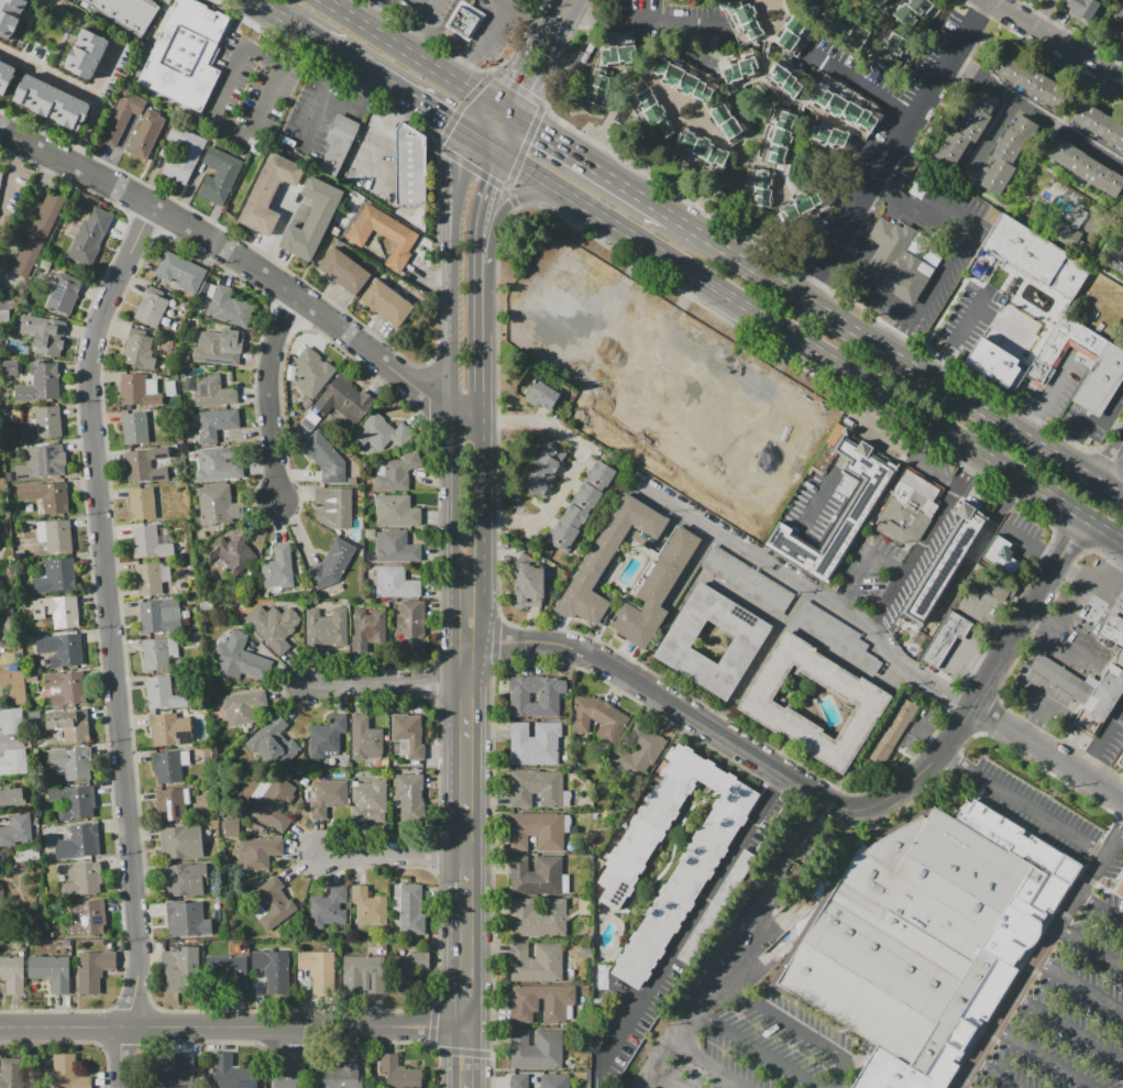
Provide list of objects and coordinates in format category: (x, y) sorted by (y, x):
road: (503, 3)
road: (563, 3)
road: (570, 3)
building: (816, 3)
building: (880, 3)
building: (1081, 9)
building: (1119, 10)
road: (367, 11)
building: (128, 12)
building: (914, 14)
building: (10, 15)
road: (273, 15)
road: (560, 20)
building: (739, 20)
building: (465, 21)
road: (495, 21)
road: (415, 23)
road: (661, 26)
road: (372, 29)
road: (439, 29)
building: (791, 31)
building: (850, 32)
building: (1121, 33)
road: (1058, 40)
road: (593, 42)
building: (617, 50)
building: (893, 52)
building: (184, 53)
building: (88, 55)
road: (350, 63)
road: (516, 63)
building: (739, 66)
building: (5, 75)
traffic signals: (507, 77)
building: (681, 77)
building: (788, 77)
building: (1027, 77)
road: (540, 78)
road: (863, 85)
building: (596, 87)
road: (86, 89)
road: (467, 89)
road: (319, 99)
building: (55, 103)
building: (845, 103)
road: (1039, 107)
building: (650, 113)
road: (433, 114)
building: (977, 114)
building: (121, 116)
building: (727, 120)
road: (227, 121)
building: (1100, 122)
traffic signals: (447, 123)
traffic signals: (536, 132)
building: (145, 134)
building: (829, 134)
building: (779, 135)
road: (992, 135)
road: (507, 138)
road: (376, 142)
building: (338, 144)
road: (895, 145)
building: (1012, 145)
building: (953, 147)
road: (563, 149)
building: (701, 152)
building: (183, 154)
building: (410, 166)
building: (1086, 166)
road: (460, 172)
road: (527, 172)
building: (219, 176)
building: (999, 176)
building: (1, 179)
traffic signals: (489, 184)
building: (759, 186)
building: (269, 190)
road: (641, 196)
road: (513, 199)
building: (802, 205)
road: (482, 208)
building: (312, 219)
road: (143, 224)
building: (1063, 232)
building: (37, 234)
building: (382, 234)
building: (89, 235)
road: (951, 253)
building: (1115, 255)
road: (236, 256)
building: (1027, 257)
building: (896, 262)
building: (179, 271)
building: (344, 271)
building: (64, 293)
road: (480, 296)
road: (2, 303)
building: (386, 303)
building: (152, 307)
building: (228, 307)
building: (3, 316)
road: (302, 320)
road: (455, 329)
road: (959, 332)
road: (900, 333)
building: (51, 338)
building: (1063, 345)
building: (139, 348)
building: (216, 350)
road: (898, 356)
building: (990, 361)
building: (9, 366)
road: (427, 366)
building: (312, 372)
road: (480, 372)
road: (855, 373)
building: (1101, 380)
building: (40, 383)
building: (169, 387)
building: (140, 391)
building: (209, 391)
road: (266, 393)
building: (542, 394)
road: (1043, 398)
building: (343, 399)
road: (469, 414)
road: (866, 417)
building: (48, 422)
building: (212, 424)
building: (134, 428)
building: (379, 432)
road: (846, 448)
building: (324, 459)
road: (1105, 460)
road: (1109, 461)
building: (42, 462)
road: (576, 463)
building: (217, 464)
building: (137, 465)
road: (964, 468)
building: (543, 470)
building: (396, 471)
road: (935, 473)
road: (456, 484)
road: (482, 486)
road: (822, 491)
building: (46, 496)
building: (862, 502)
building: (142, 504)
building: (217, 505)
building: (581, 506)
building: (334, 507)
building: (909, 508)
building: (396, 510)
building: (56, 535)
road: (1071, 539)
building: (150, 541)
building: (0, 542)
building: (396, 547)
road: (977, 550)
building: (233, 551)
building: (998, 551)
road: (913, 556)
road: (1107, 556)
building: (606, 558)
building: (332, 563)
road: (865, 563)
building: (945, 564)
building: (279, 568)
road: (1112, 568)
road: (473, 573)
road: (461, 574)
building: (56, 576)
building: (151, 578)
road: (1090, 578)
building: (746, 580)
building: (395, 583)
building: (528, 583)
building: (994, 587)
building: (654, 590)
road: (92, 592)
road: (1072, 603)
building: (1121, 605)
building: (57, 611)
road: (1028, 611)
building: (158, 616)
road: (860, 616)
road: (1041, 617)
building: (8, 620)
building: (274, 626)
building: (1114, 629)
gas station: (1114, 629)
building: (327, 630)
building: (367, 630)
building: (410, 630)
building: (835, 635)
building: (945, 638)
building: (676, 641)
road: (111, 642)
road: (1065, 646)
road: (1049, 647)
building: (66, 650)
road: (1058, 652)
building: (159, 653)
road: (760, 657)
building: (239, 659)
road: (1075, 662)
road: (1039, 663)
road: (1083, 668)
road: (1048, 670)
building: (1063, 678)
road: (1027, 680)
road: (1065, 680)
building: (13, 684)
road: (387, 684)
road: (1074, 684)
building: (65, 689)
road: (1035, 689)
road: (1083, 691)
road: (1042, 692)
building: (162, 693)
road: (1052, 697)
building: (548, 699)
road: (1056, 701)
building: (1101, 701)
building: (870, 702)
road: (1061, 704)
building: (243, 706)
road: (983, 710)
building: (597, 717)
building: (10, 721)
building: (70, 724)
building: (169, 729)
building: (895, 729)
building: (405, 736)
road: (1056, 736)
building: (328, 737)
building: (365, 739)
building: (271, 740)
road: (1102, 740)
road: (8, 743)
building: (535, 744)
road: (737, 744)
building: (642, 748)
building: (13, 761)
building: (1120, 761)
building: (71, 762)
building: (169, 765)
building: (536, 787)
building: (12, 795)
building: (328, 795)
building: (368, 795)
building: (410, 795)
building: (75, 802)
building: (271, 802)
road: (1023, 803)
building: (169, 805)
road: (467, 806)
parking lot: (1037, 812)
building: (230, 827)
building: (16, 831)
building: (537, 831)
building: (713, 836)
building: (180, 842)
building: (79, 843)
building: (257, 853)
road: (394, 855)
building: (536, 875)
building: (82, 879)
building: (185, 879)
building: (1120, 890)
building: (0, 897)
building: (272, 902)
road: (1099, 905)
building: (328, 909)
building: (370, 911)
building: (412, 911)
building: (538, 917)
building: (88, 919)
building: (186, 920)
road: (692, 921)
building: (927, 938)
road: (1090, 945)
road: (736, 946)
road: (1036, 956)
building: (536, 963)
building: (317, 965)
building: (92, 969)
building: (181, 969)
building: (407, 971)
building: (51, 972)
building: (273, 974)
building: (363, 974)
building: (11, 975)
building: (233, 975)
road: (1079, 985)
road: (133, 1010)
parking lot: (1064, 1010)
road: (392, 1012)
building: (525, 1013)
road: (233, 1026)
road: (795, 1027)
road: (1068, 1030)
road: (761, 1047)
building: (537, 1051)
road: (288, 1056)
road: (467, 1056)
road: (1044, 1056)
road: (715, 1060)
building: (11, 1073)
building: (67, 1073)
building: (178, 1073)
road: (997, 1073)
building: (232, 1074)
building: (341, 1074)
building: (399, 1074)
building: (554, 1080)
road: (660, 1080)
building: (518, 1081)
road: (745, 1085)

